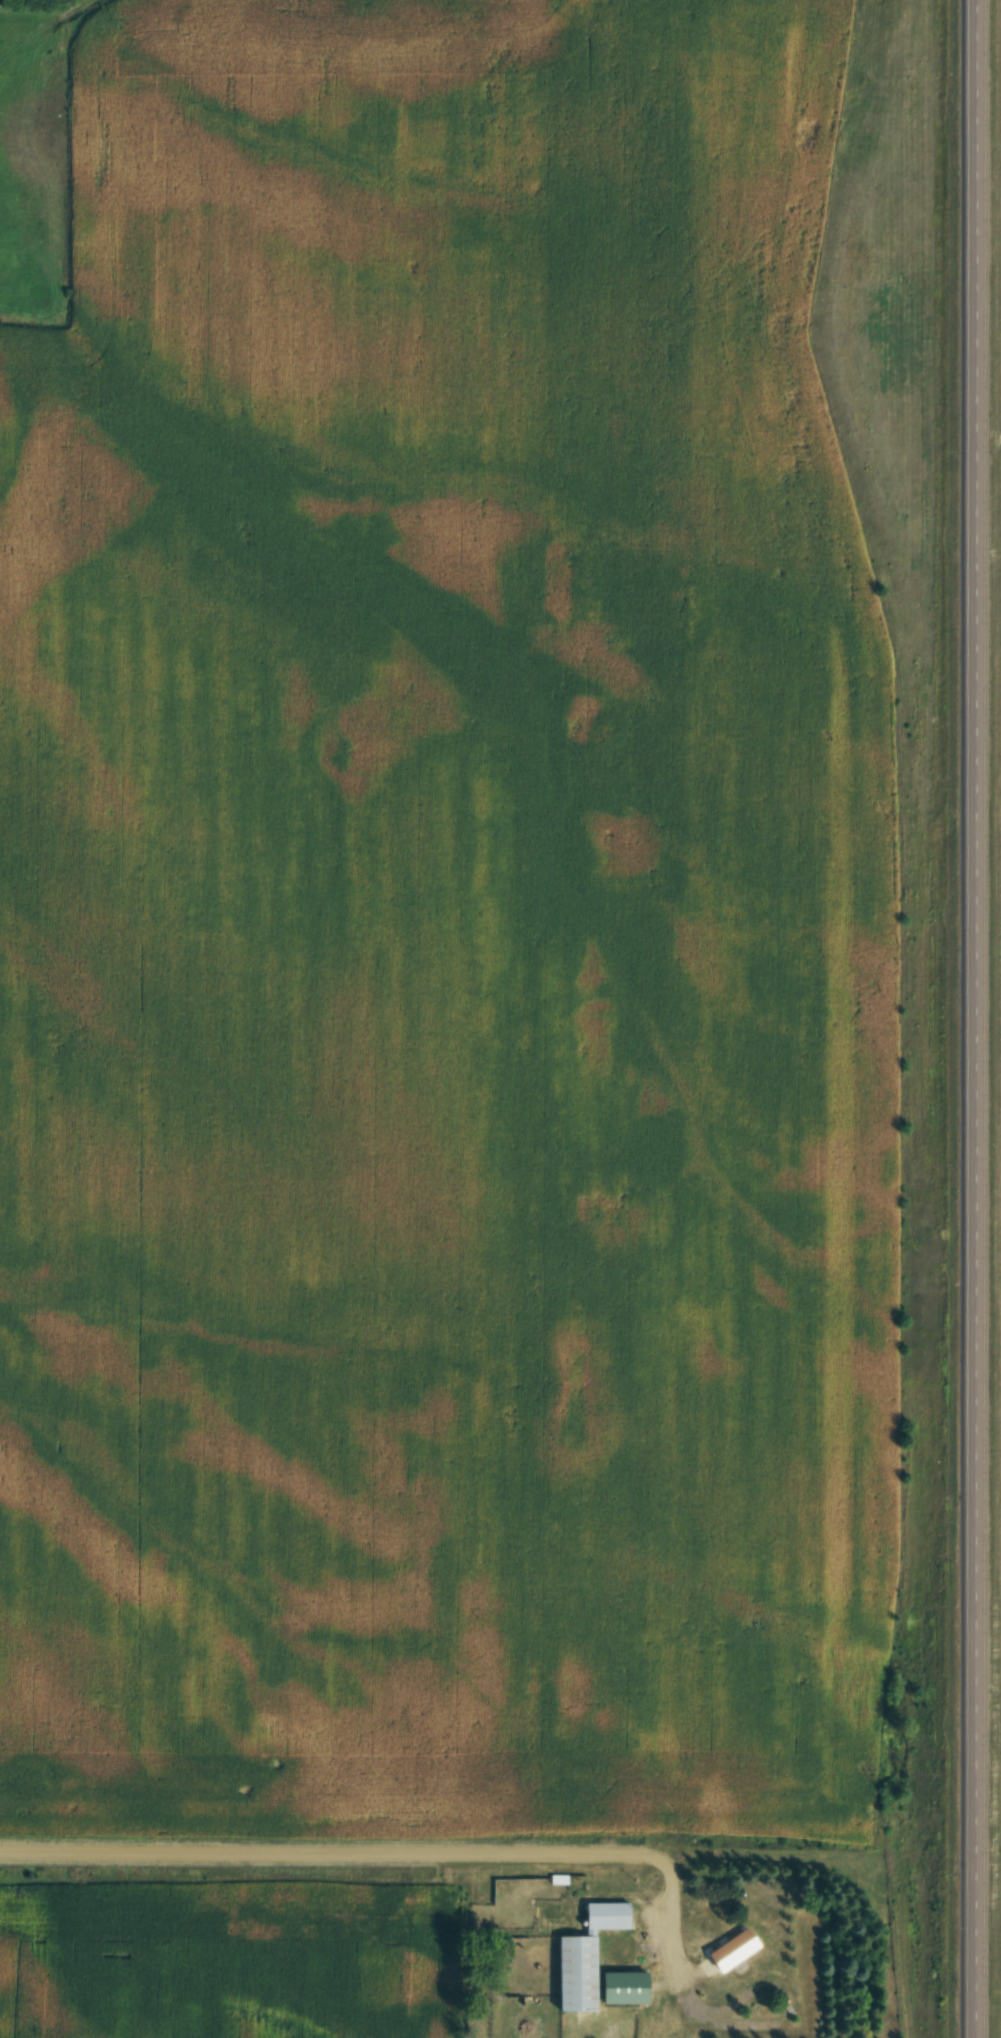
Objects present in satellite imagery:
road: (966, 1019)
road: (343, 1862)
building: (728, 1949)
building: (582, 1956)
building: (620, 1987)

